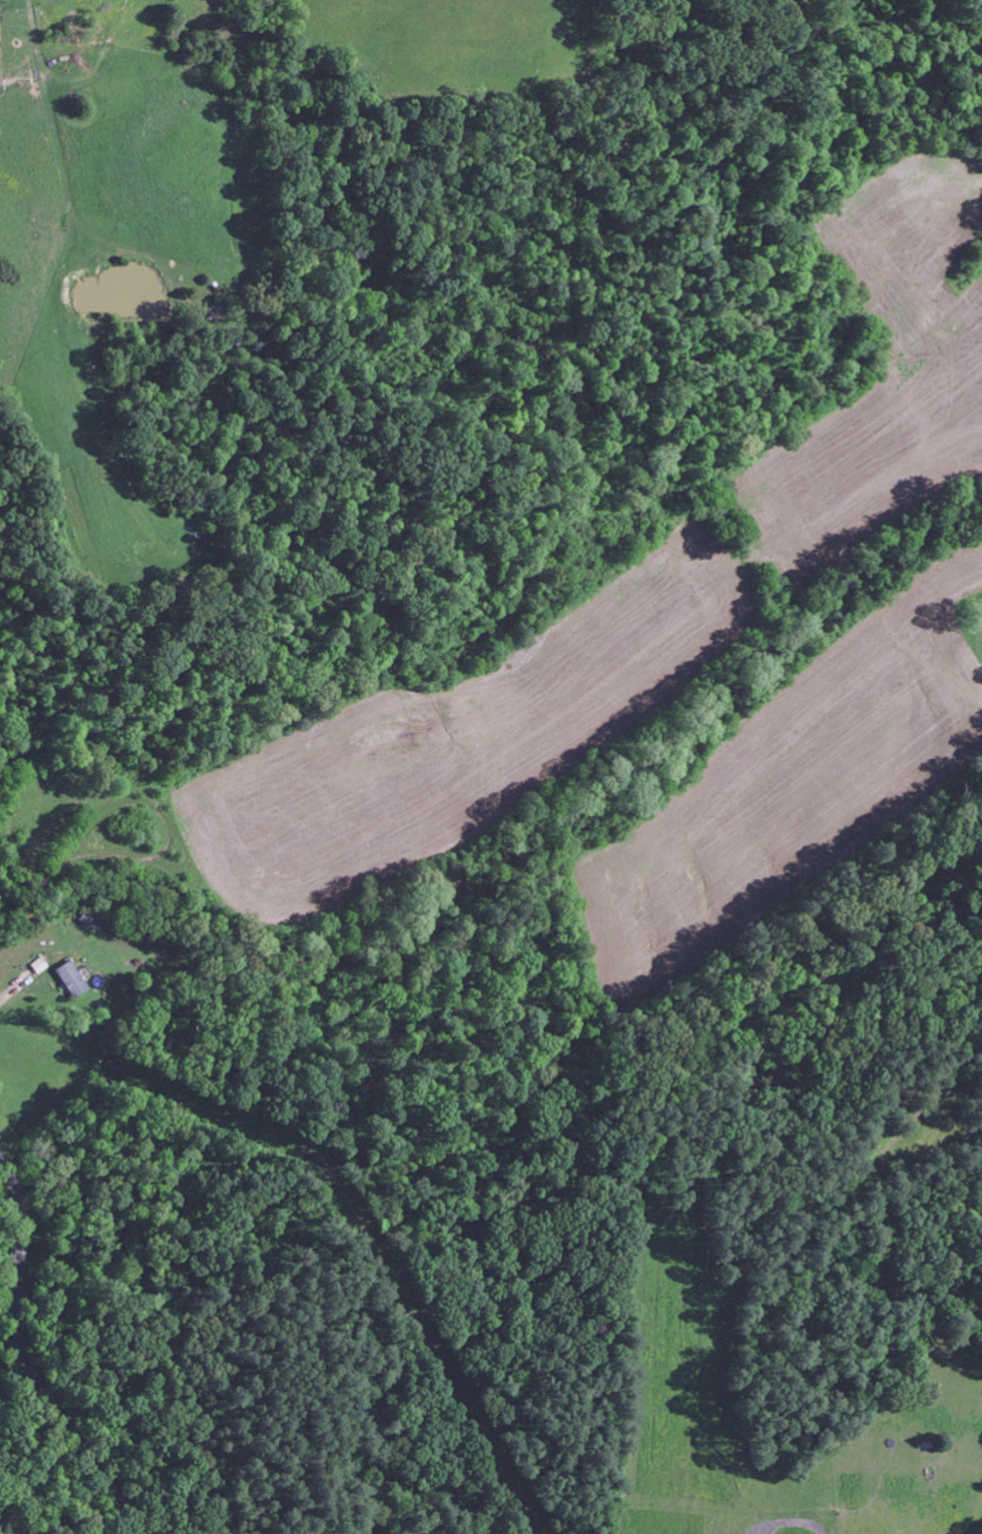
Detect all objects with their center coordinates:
building: (39, 966)
building: (73, 979)
road: (26, 1367)

